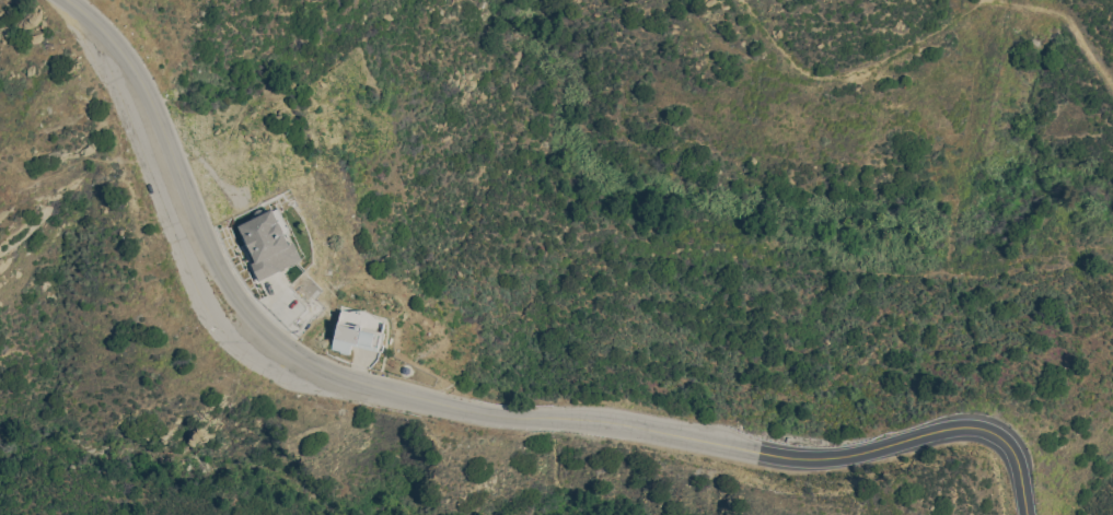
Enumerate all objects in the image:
road: (1068, 19)
road: (856, 71)
building: (267, 243)
building: (355, 337)
road: (396, 389)
road: (1001, 438)

